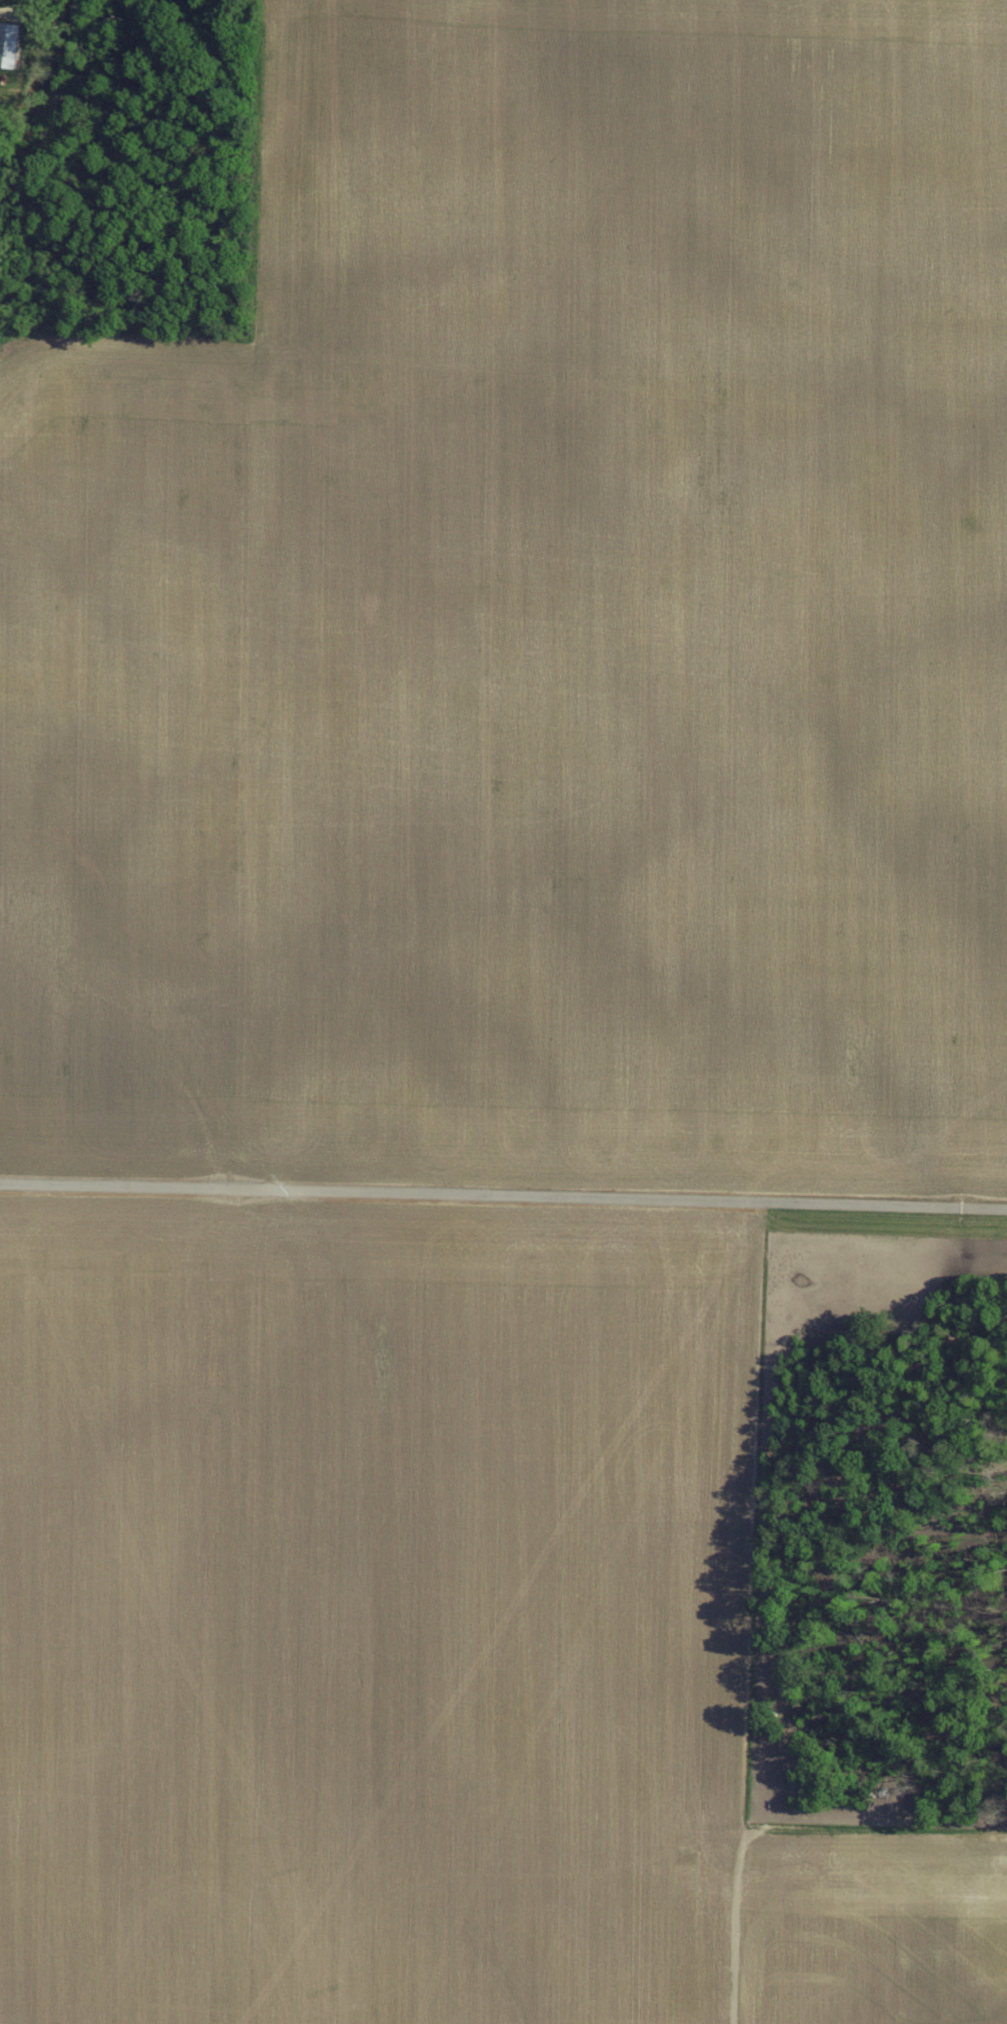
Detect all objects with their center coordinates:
building: (18, 42)
road: (503, 1195)

